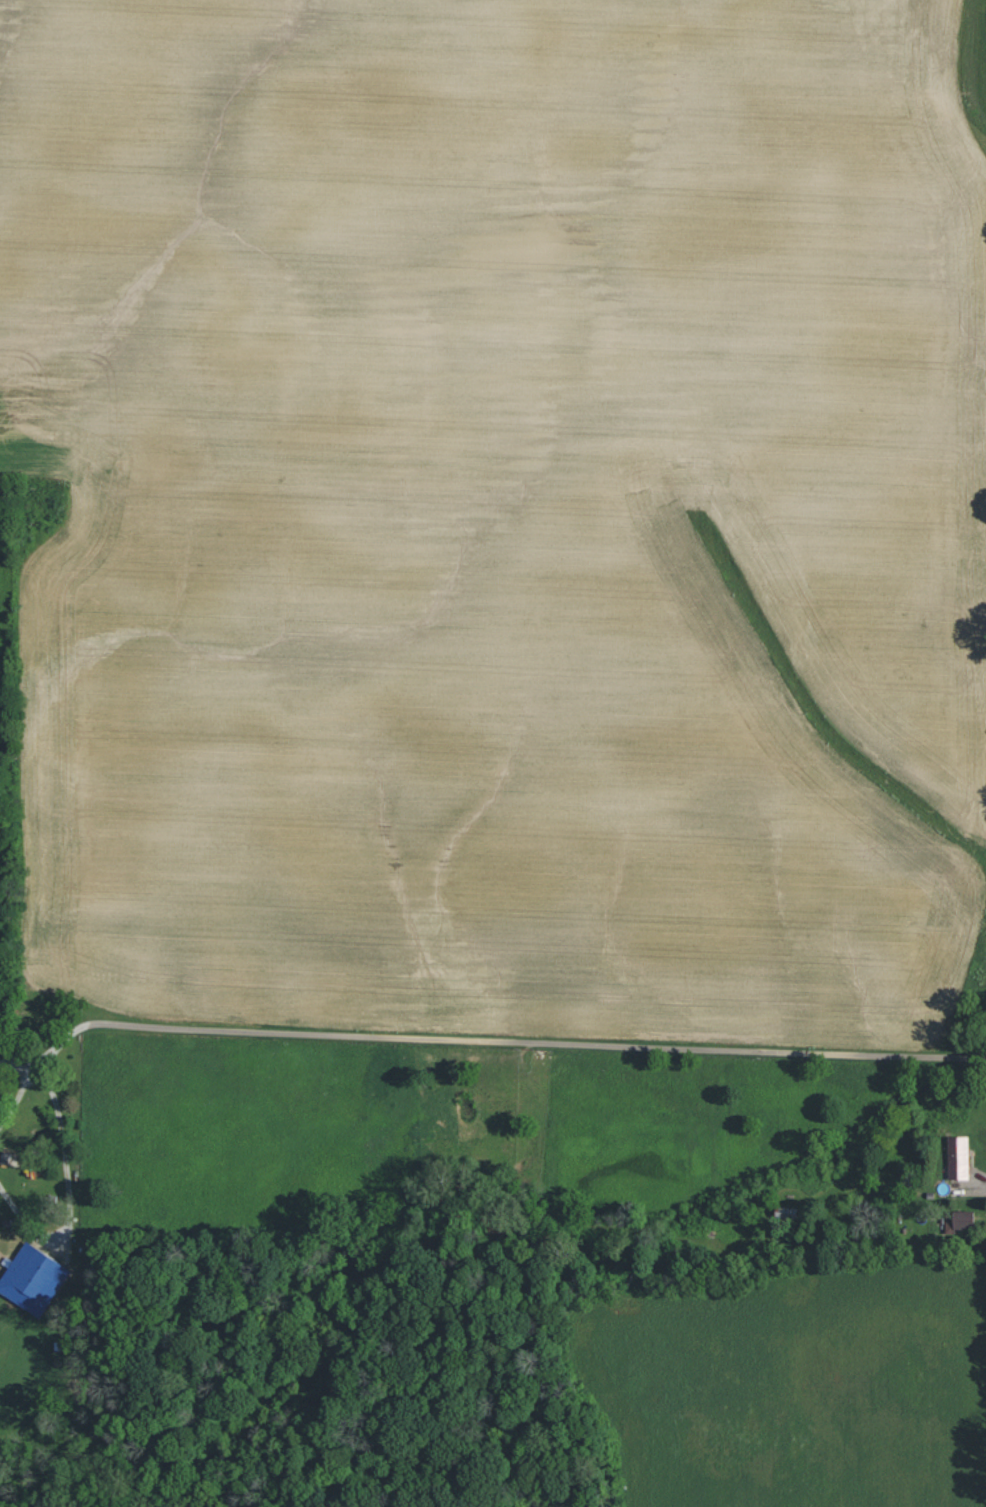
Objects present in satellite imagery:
road: (429, 1037)
building: (957, 1157)
building: (957, 1220)
building: (31, 1279)

